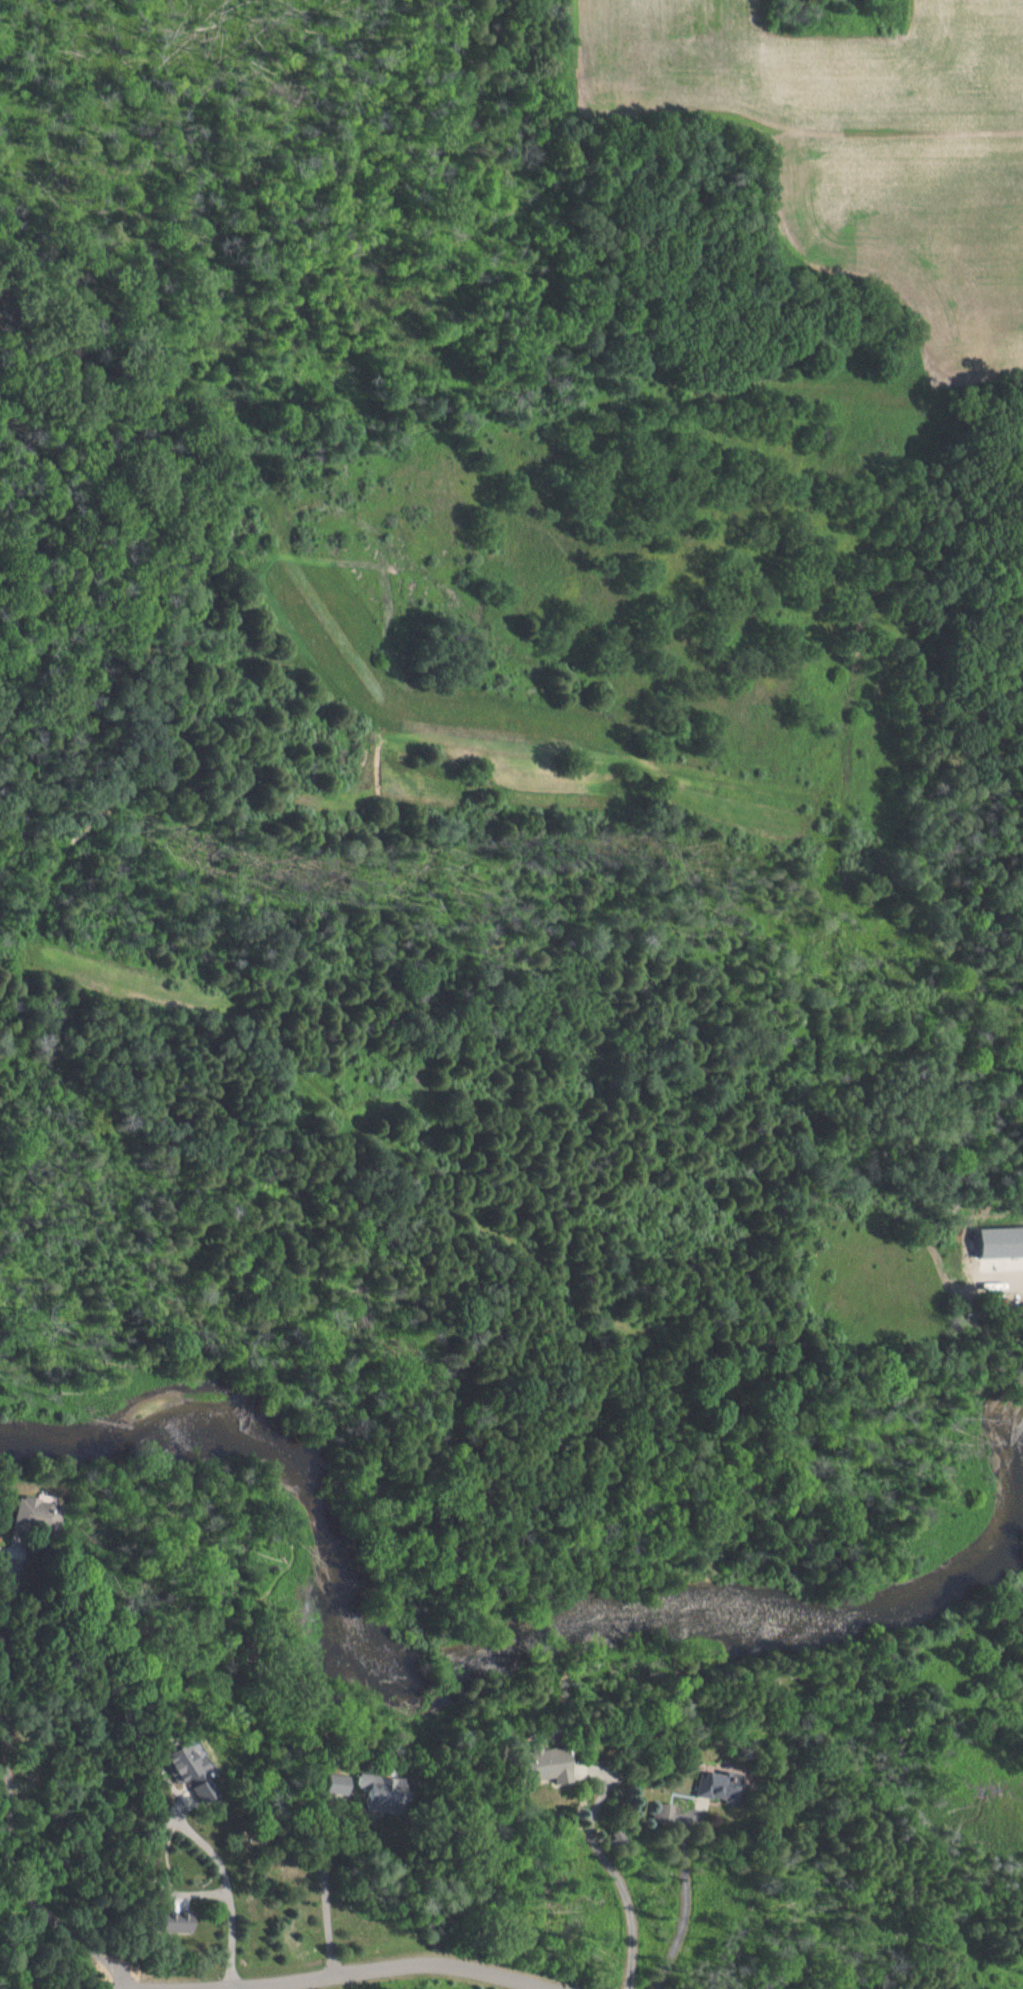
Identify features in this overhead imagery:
building: (47, 1515)
river: (492, 1653)
building: (567, 1763)
building: (203, 1775)
building: (346, 1783)
building: (727, 1784)
building: (394, 1793)
building: (667, 1812)
road: (370, 1968)

